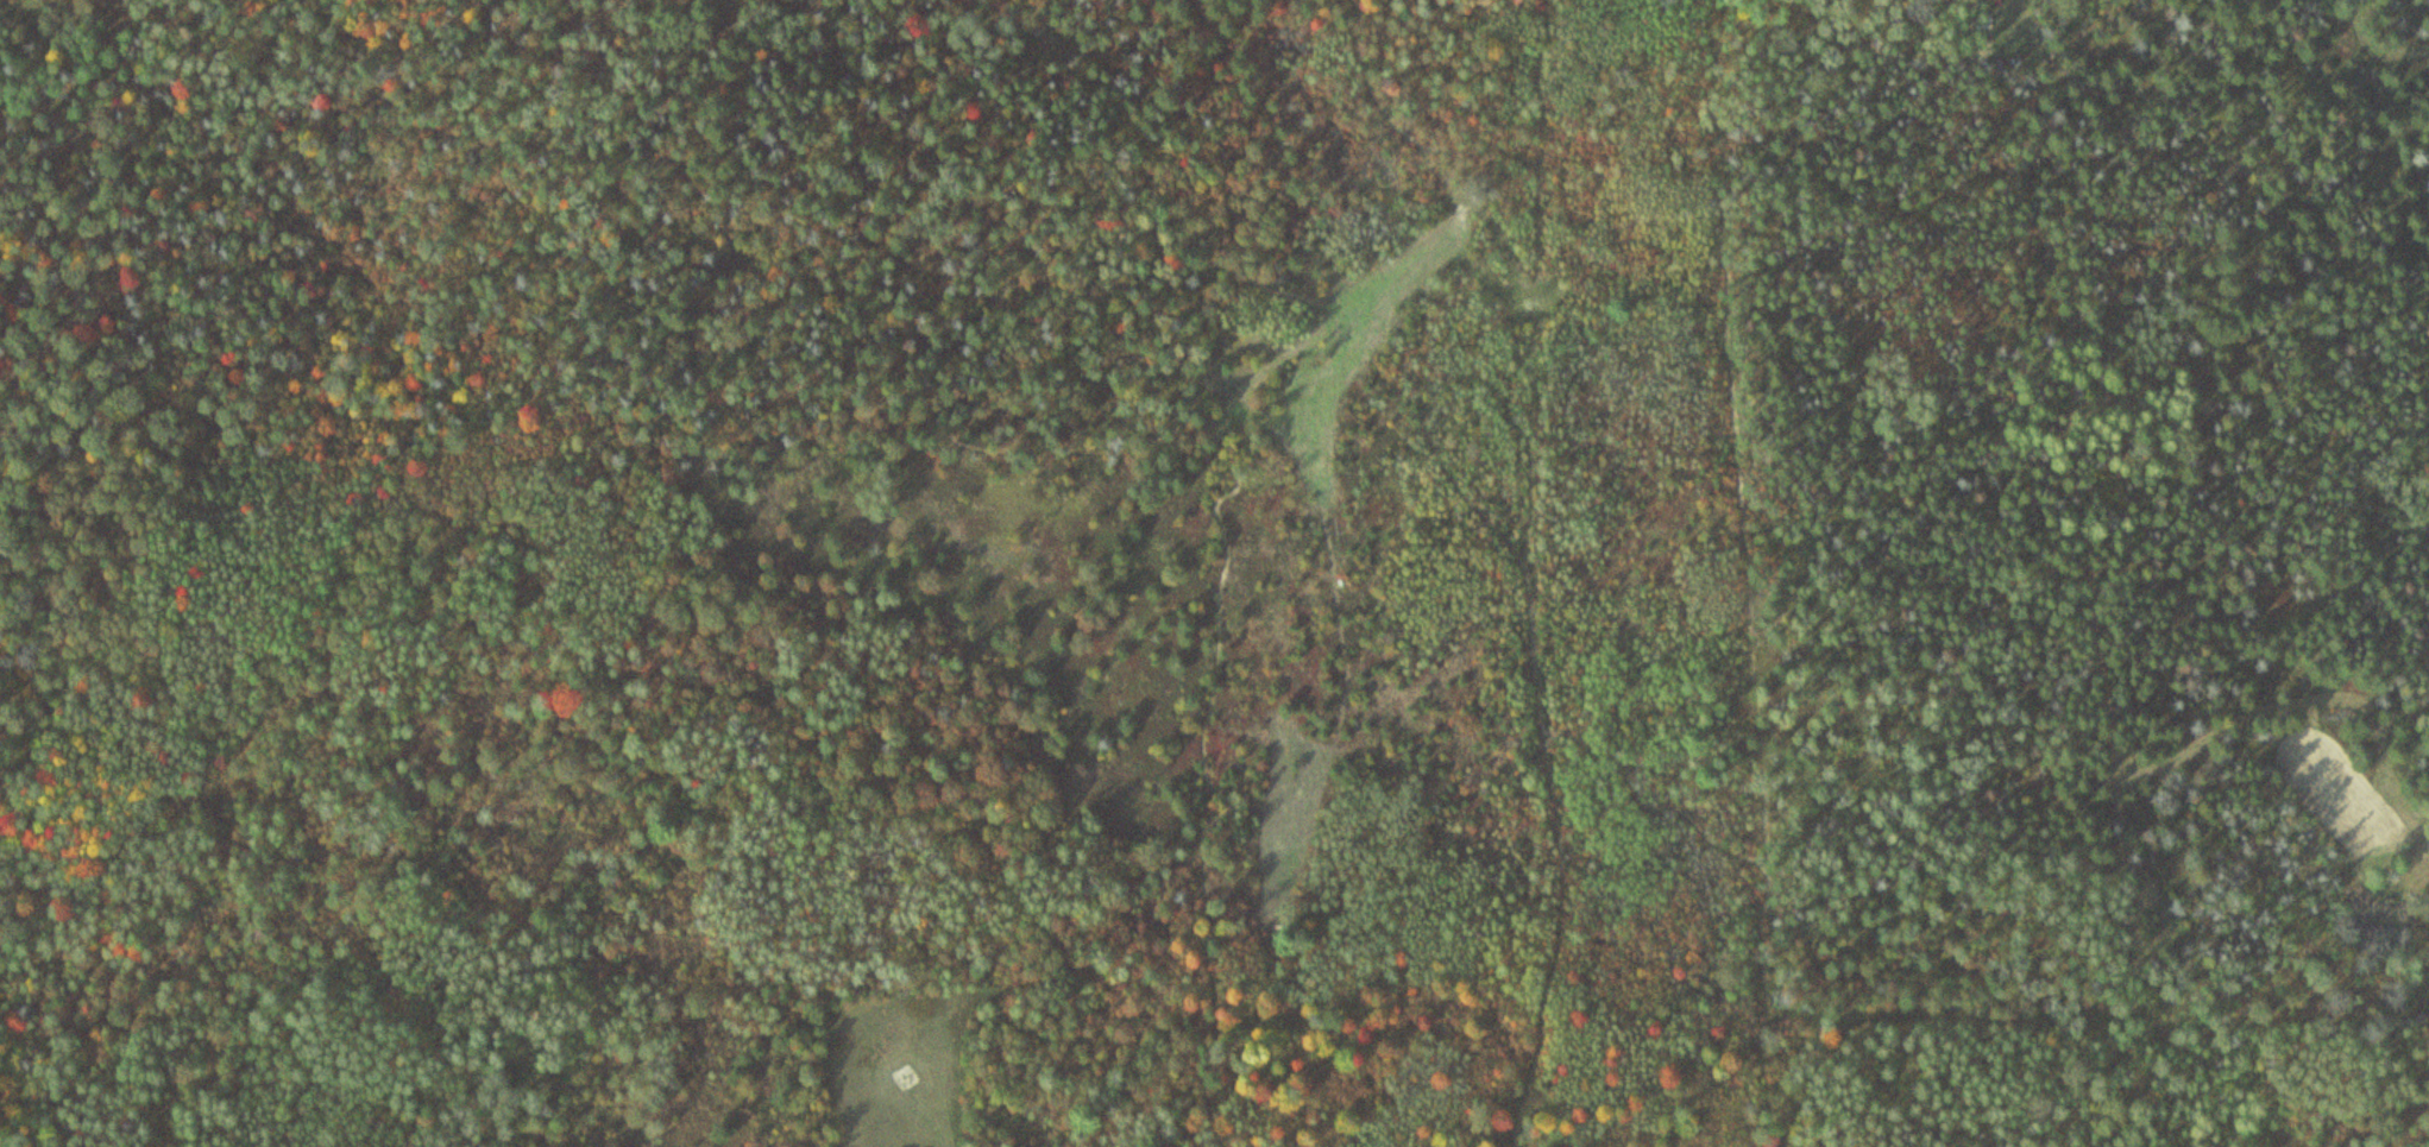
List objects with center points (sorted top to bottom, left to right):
road: (1216, 445)

